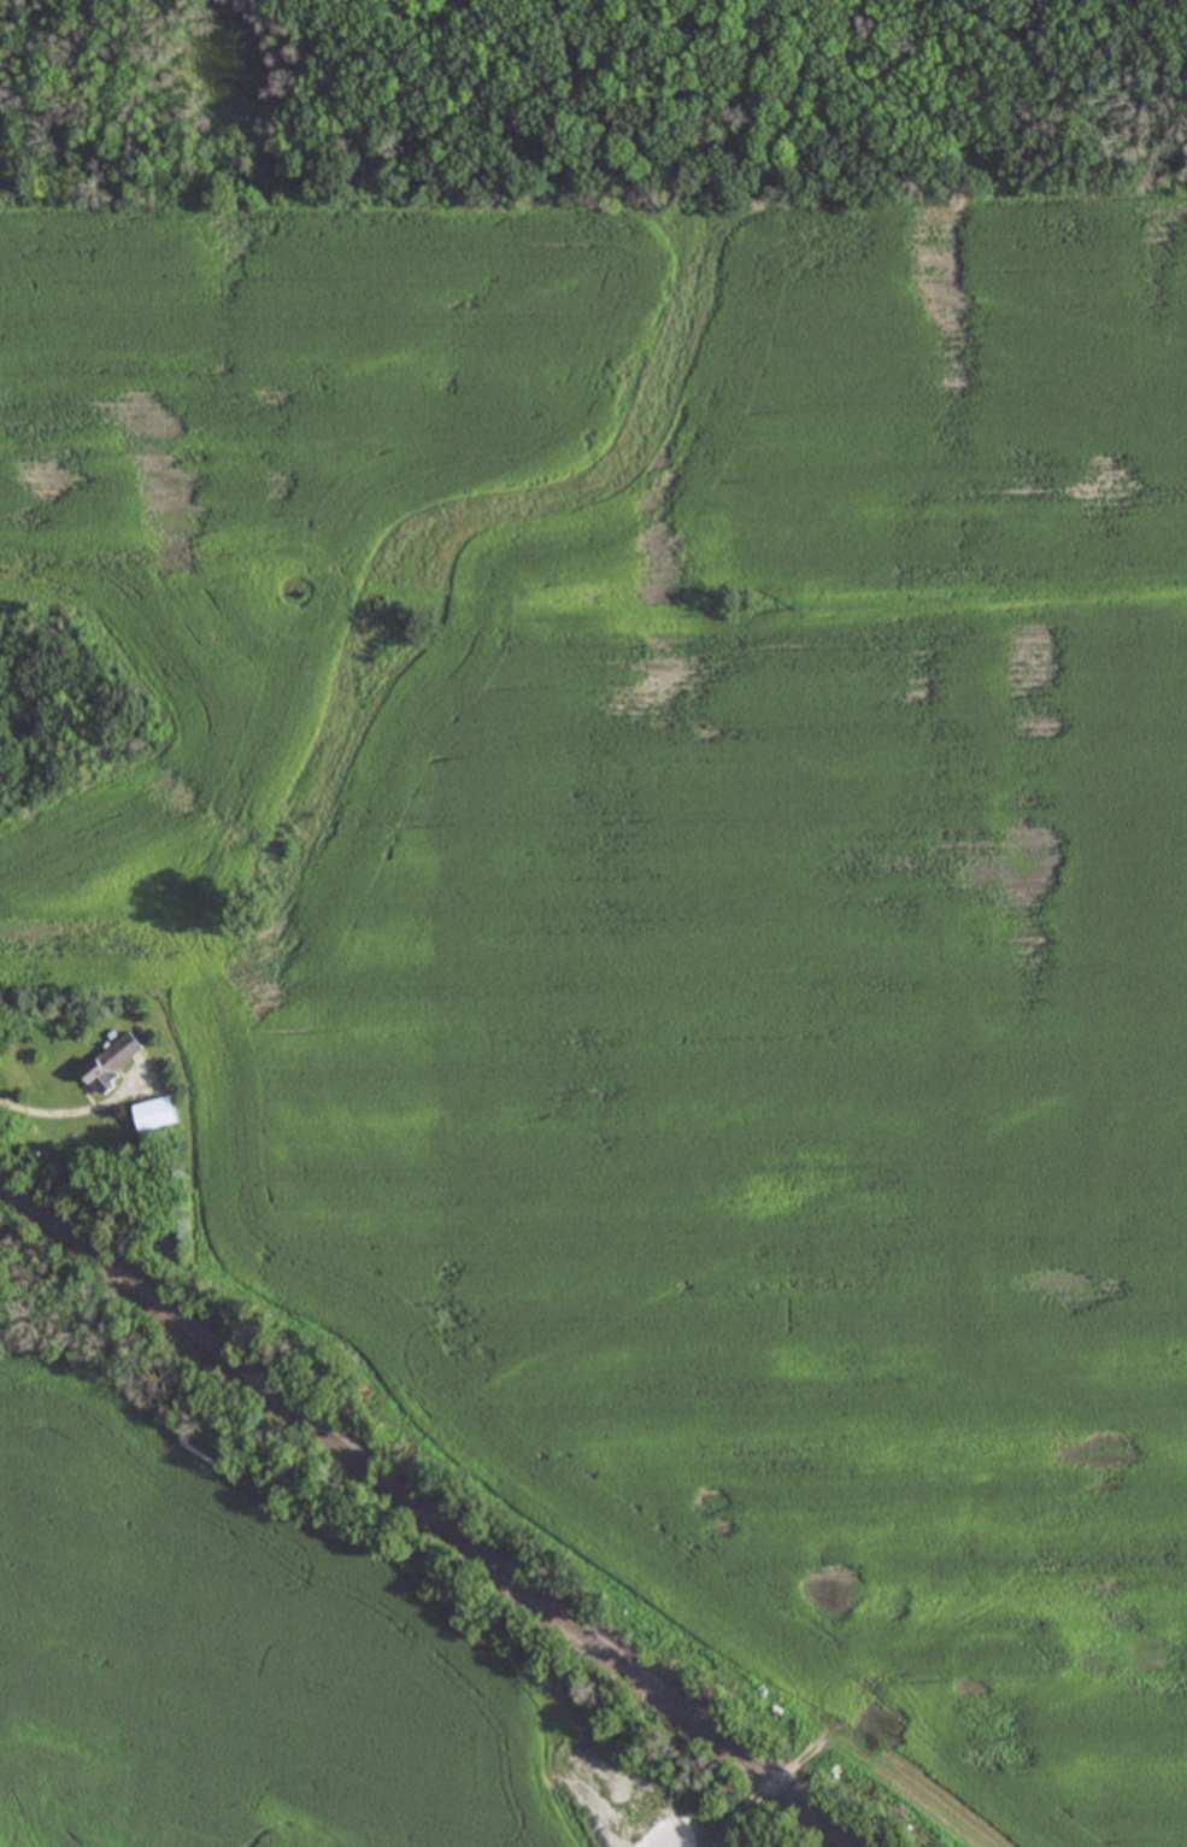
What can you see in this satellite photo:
building: (114, 1062)
building: (160, 1116)
railway: (431, 1514)
building: (1003, 1663)

